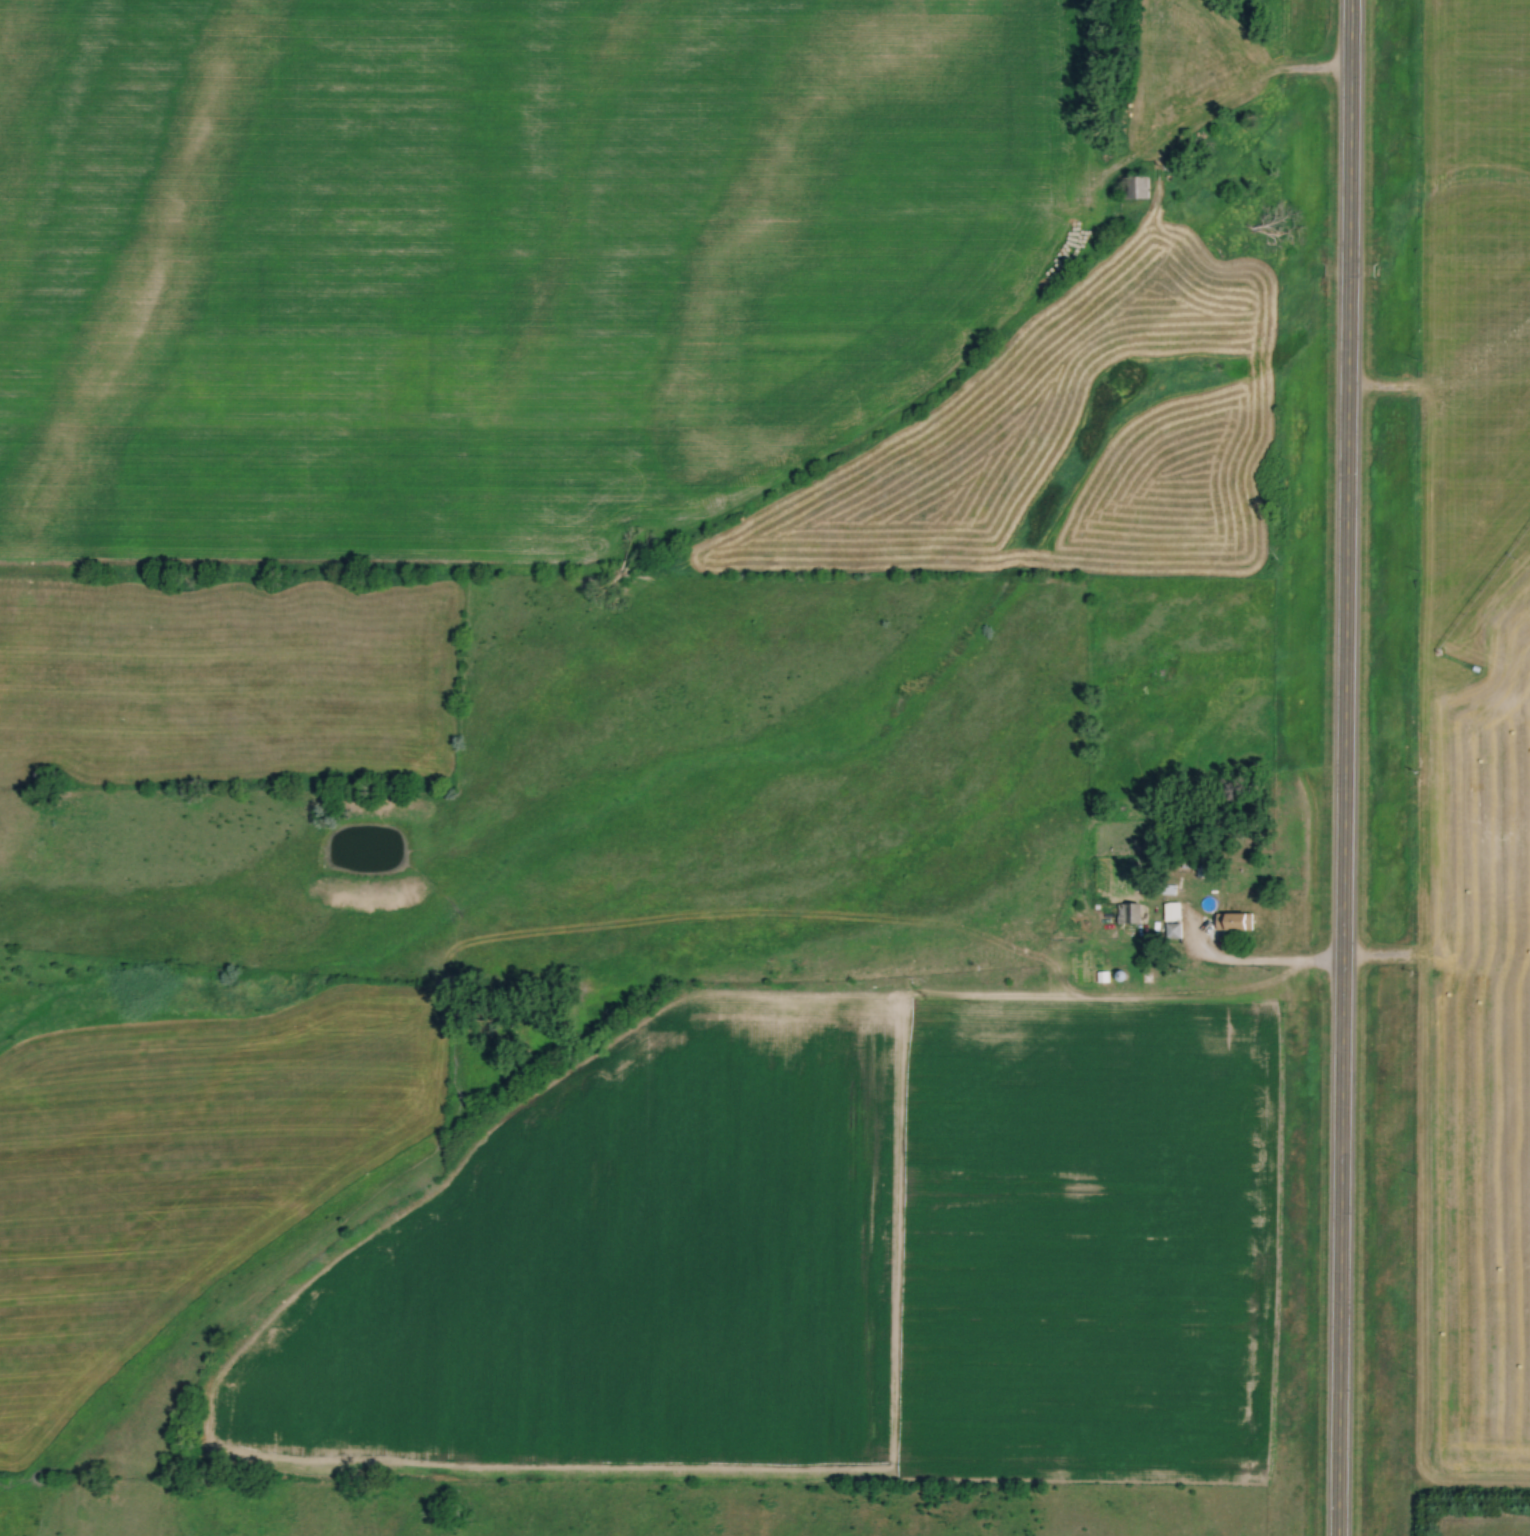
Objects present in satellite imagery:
road: (1236, 92)
building: (1134, 188)
road: (1341, 767)
building: (1173, 912)
building: (1128, 914)
building: (1234, 922)
building: (1173, 931)
road: (1255, 966)

